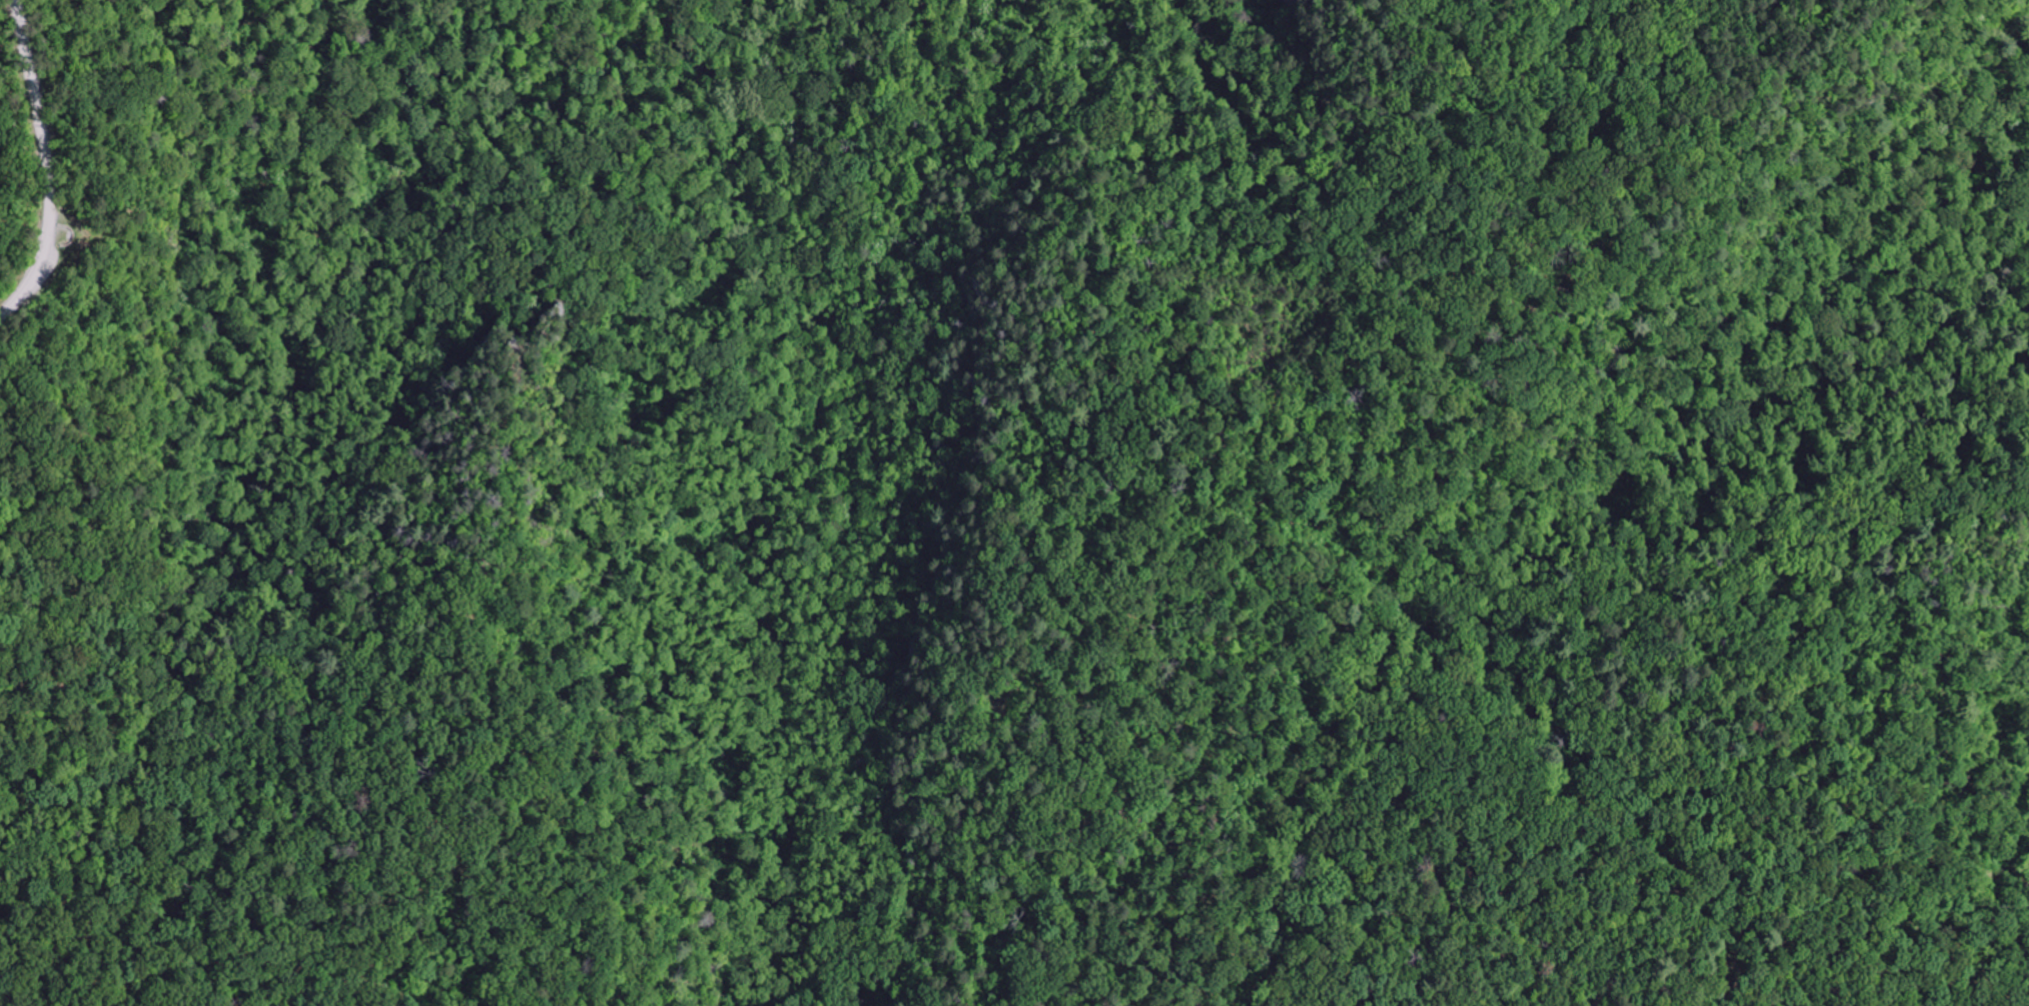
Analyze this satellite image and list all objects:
road: (45, 165)
road: (1240, 624)
road: (1700, 975)

